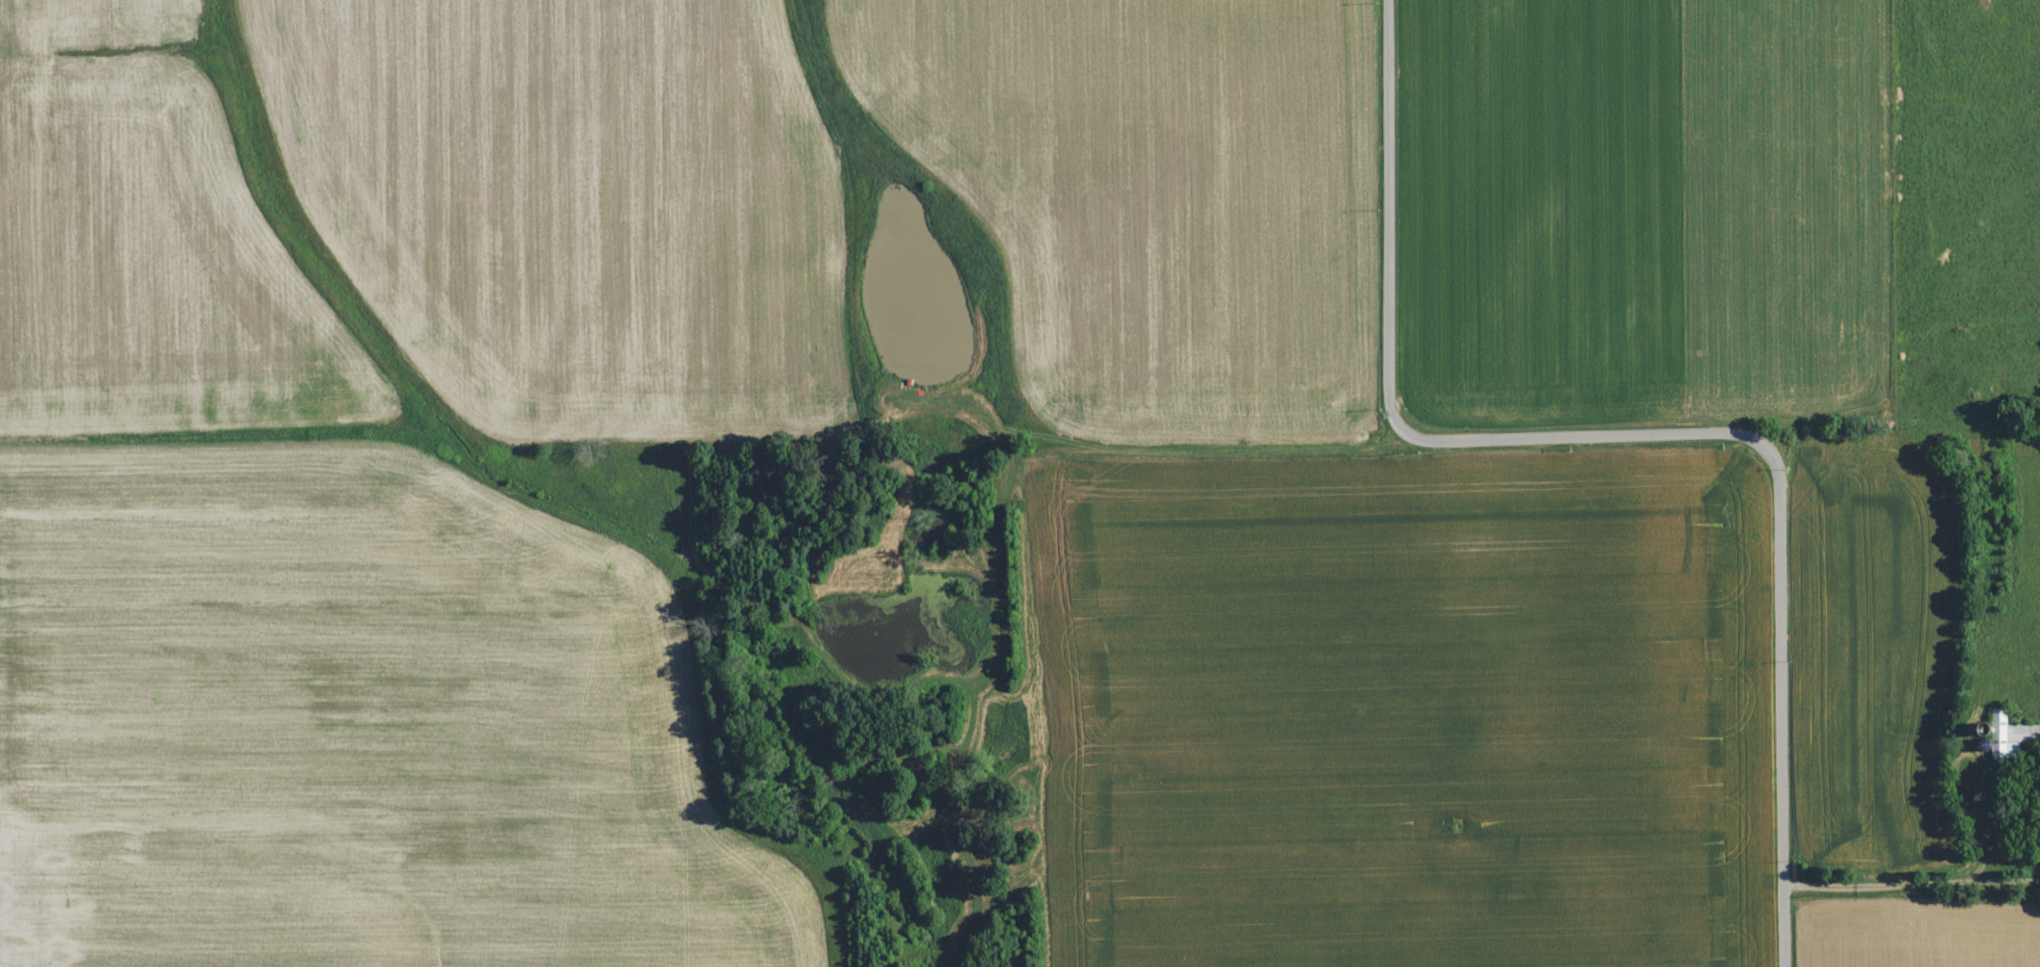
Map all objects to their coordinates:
road: (1624, 433)
road: (1908, 885)

